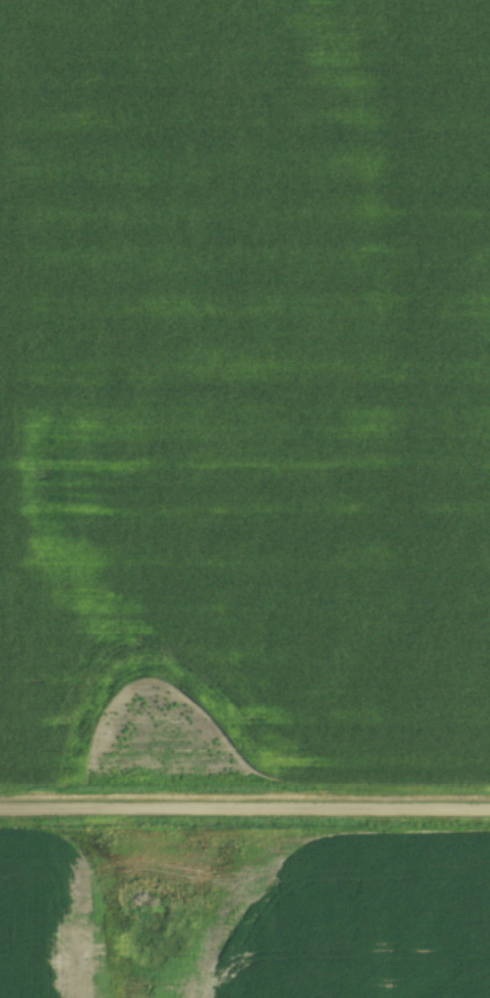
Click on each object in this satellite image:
road: (245, 806)

